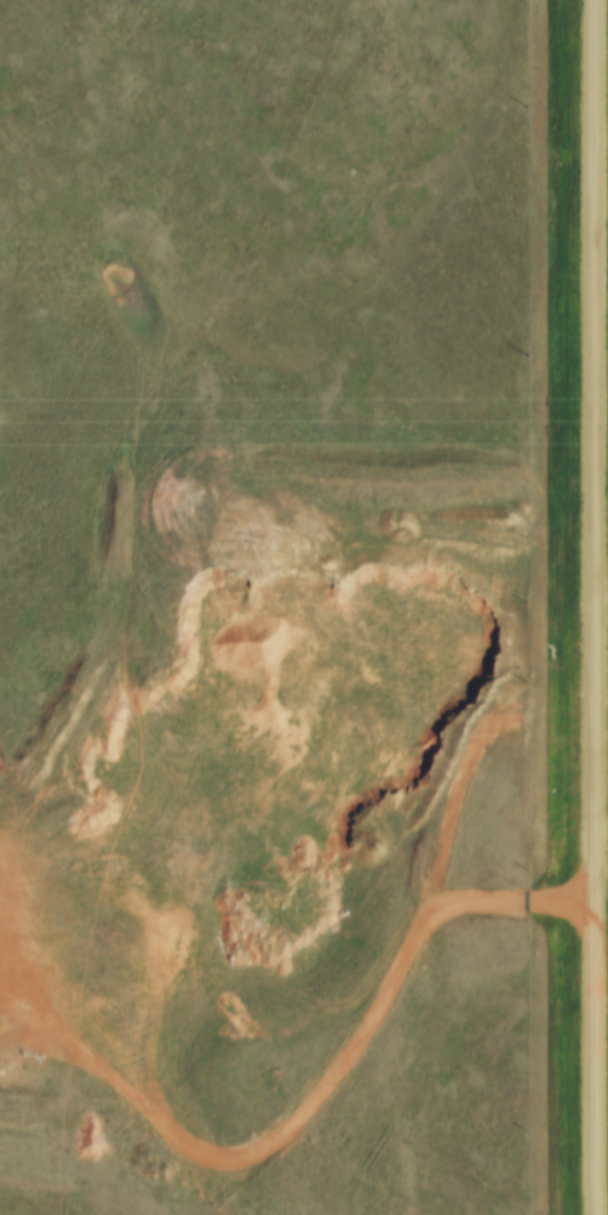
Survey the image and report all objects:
road: (593, 607)
quarry: (263, 798)
road: (320, 1081)

